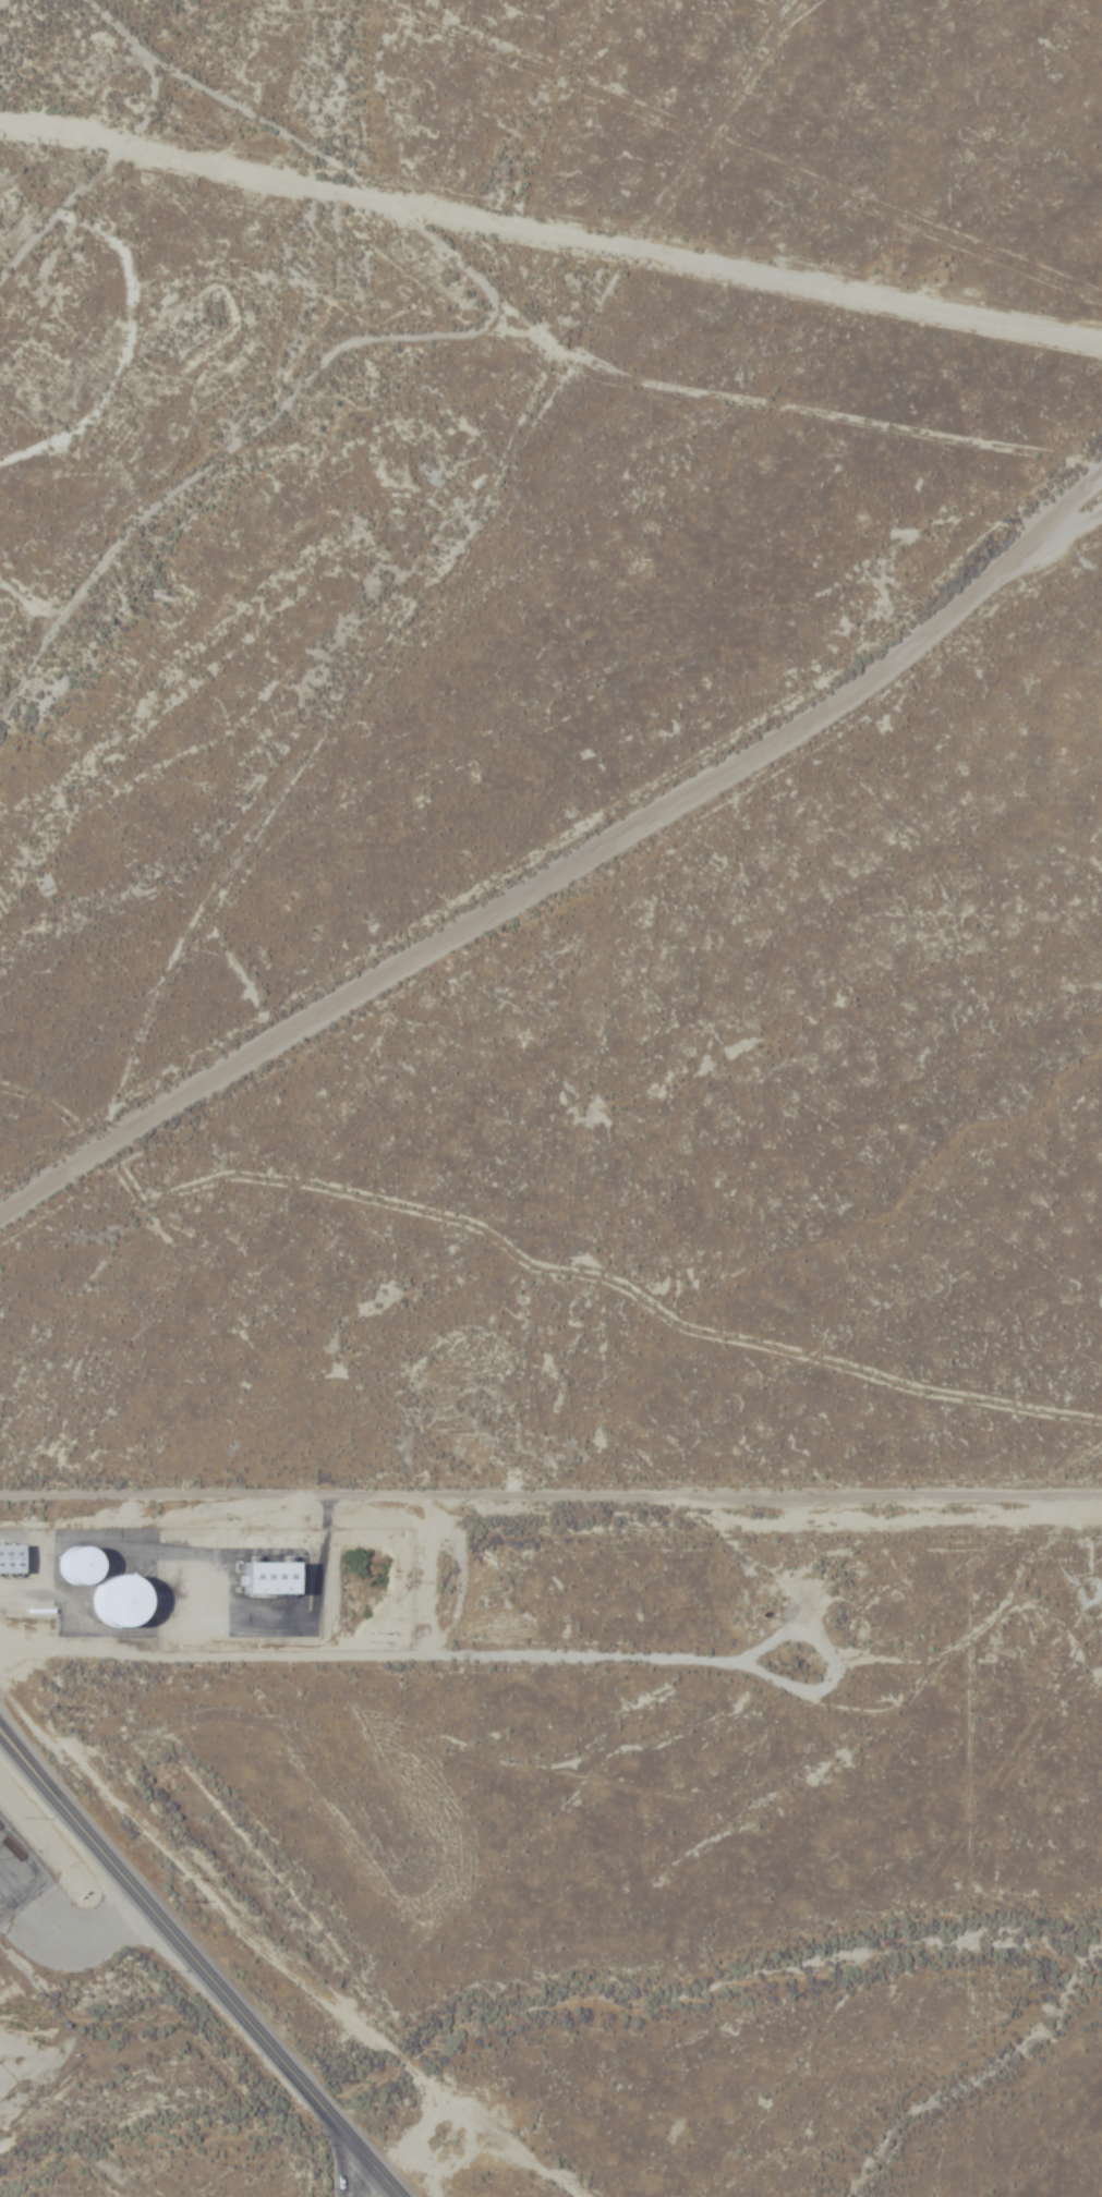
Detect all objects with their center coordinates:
road: (550, 895)
road: (550, 1505)
building: (9, 1559)
building: (76, 1567)
building: (265, 1579)
building: (112, 1601)
road: (185, 1982)
road: (352, 2187)

